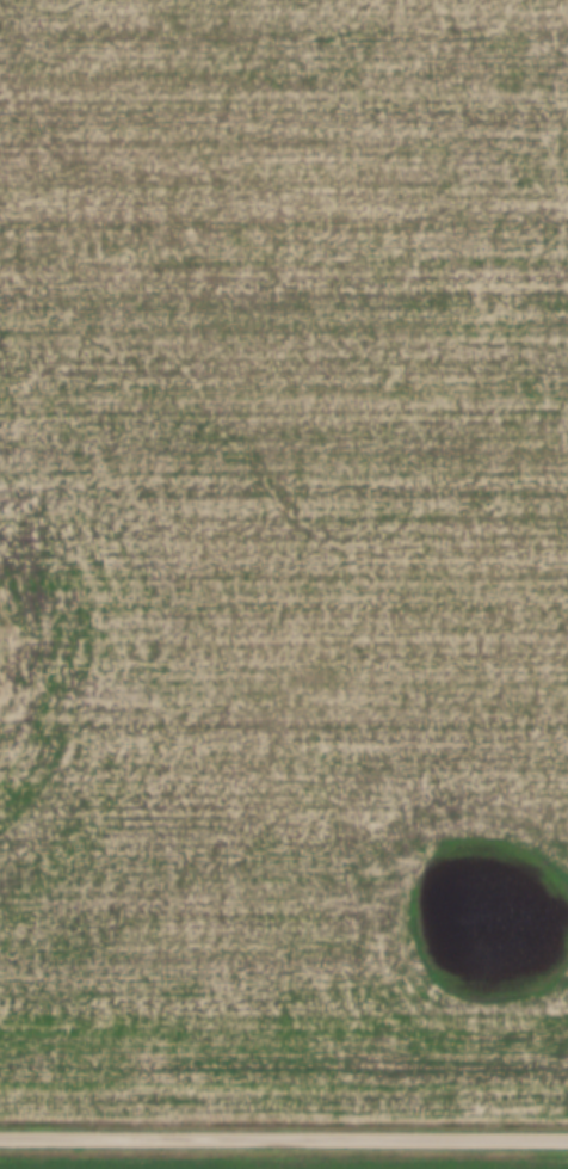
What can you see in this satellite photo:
road: (284, 1136)

